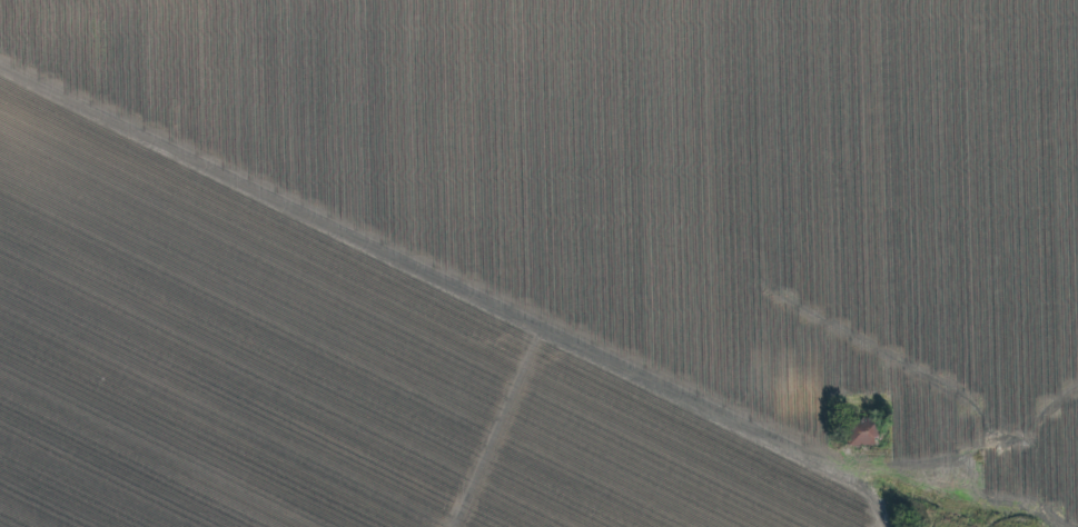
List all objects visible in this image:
road: (485, 302)

